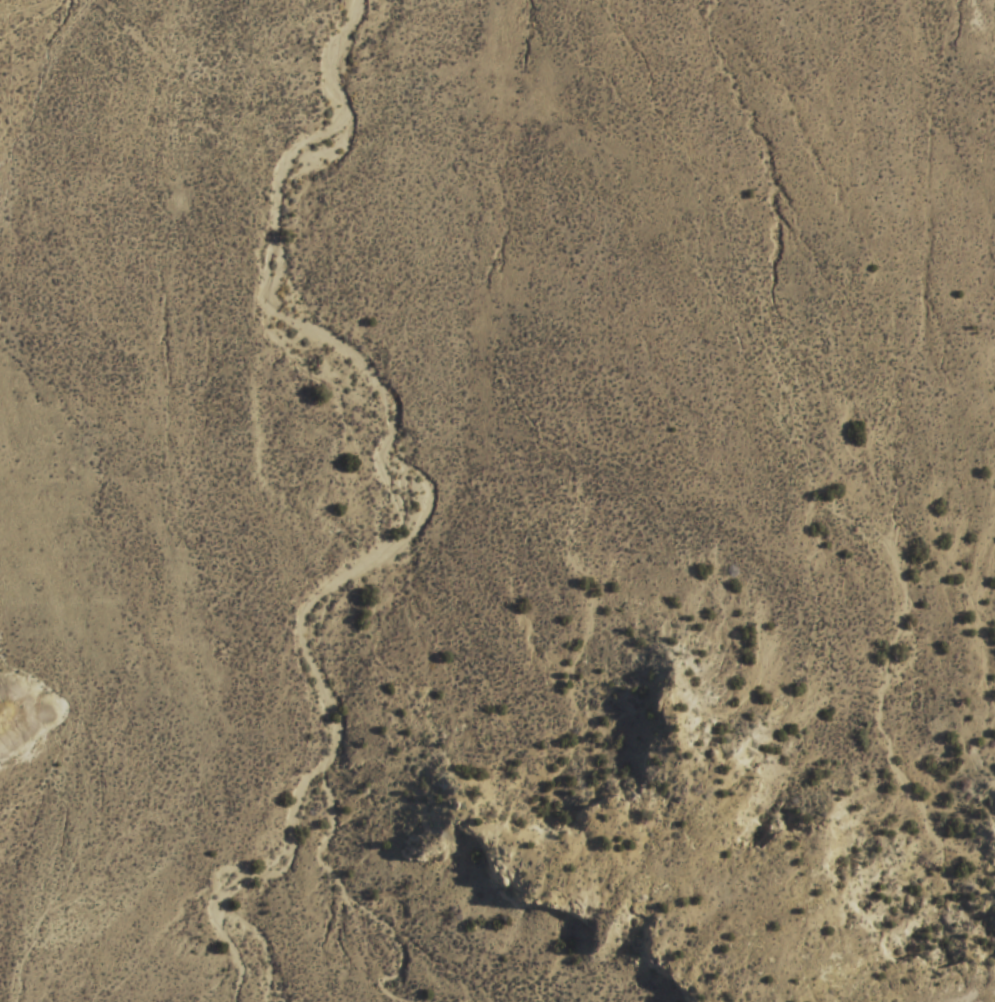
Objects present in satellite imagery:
road: (30, 20)

